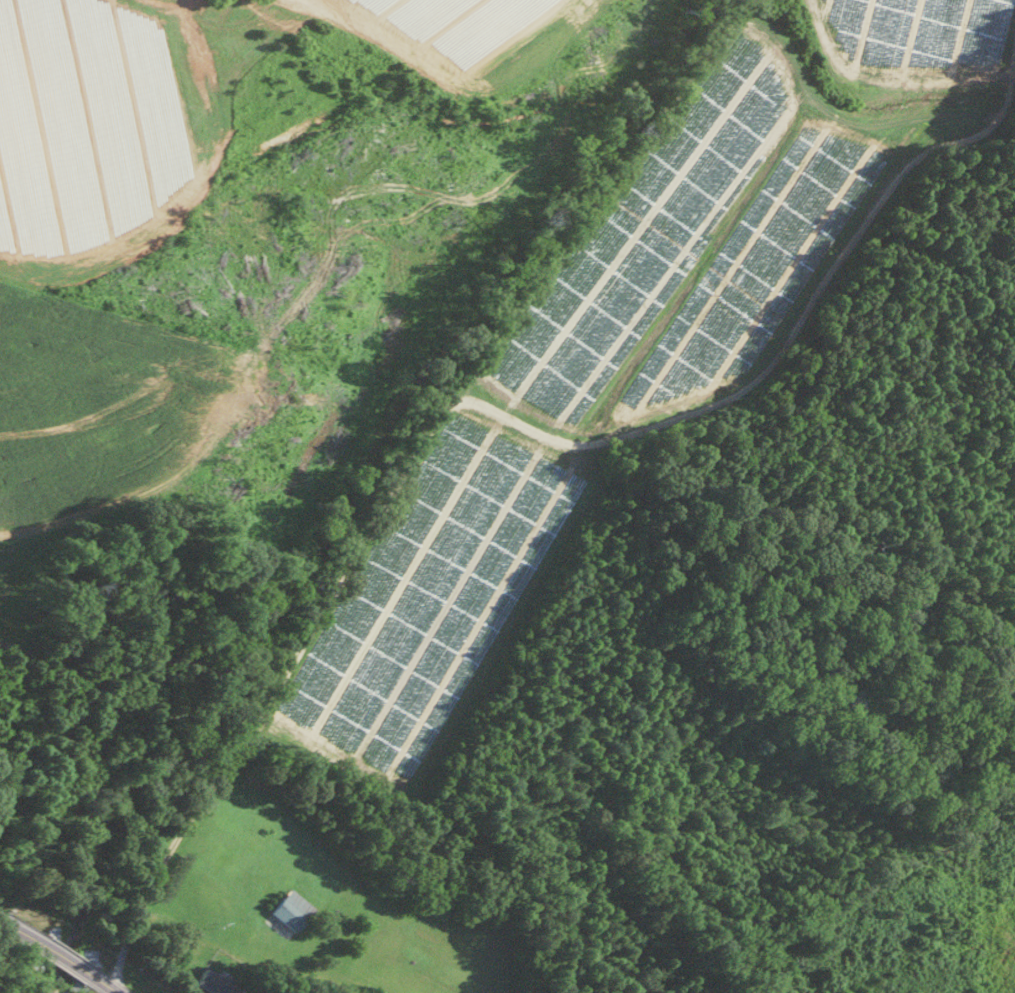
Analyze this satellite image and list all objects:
building: (289, 909)
road: (22, 929)
road: (66, 956)
road: (105, 981)
building: (213, 983)
road: (114, 990)

